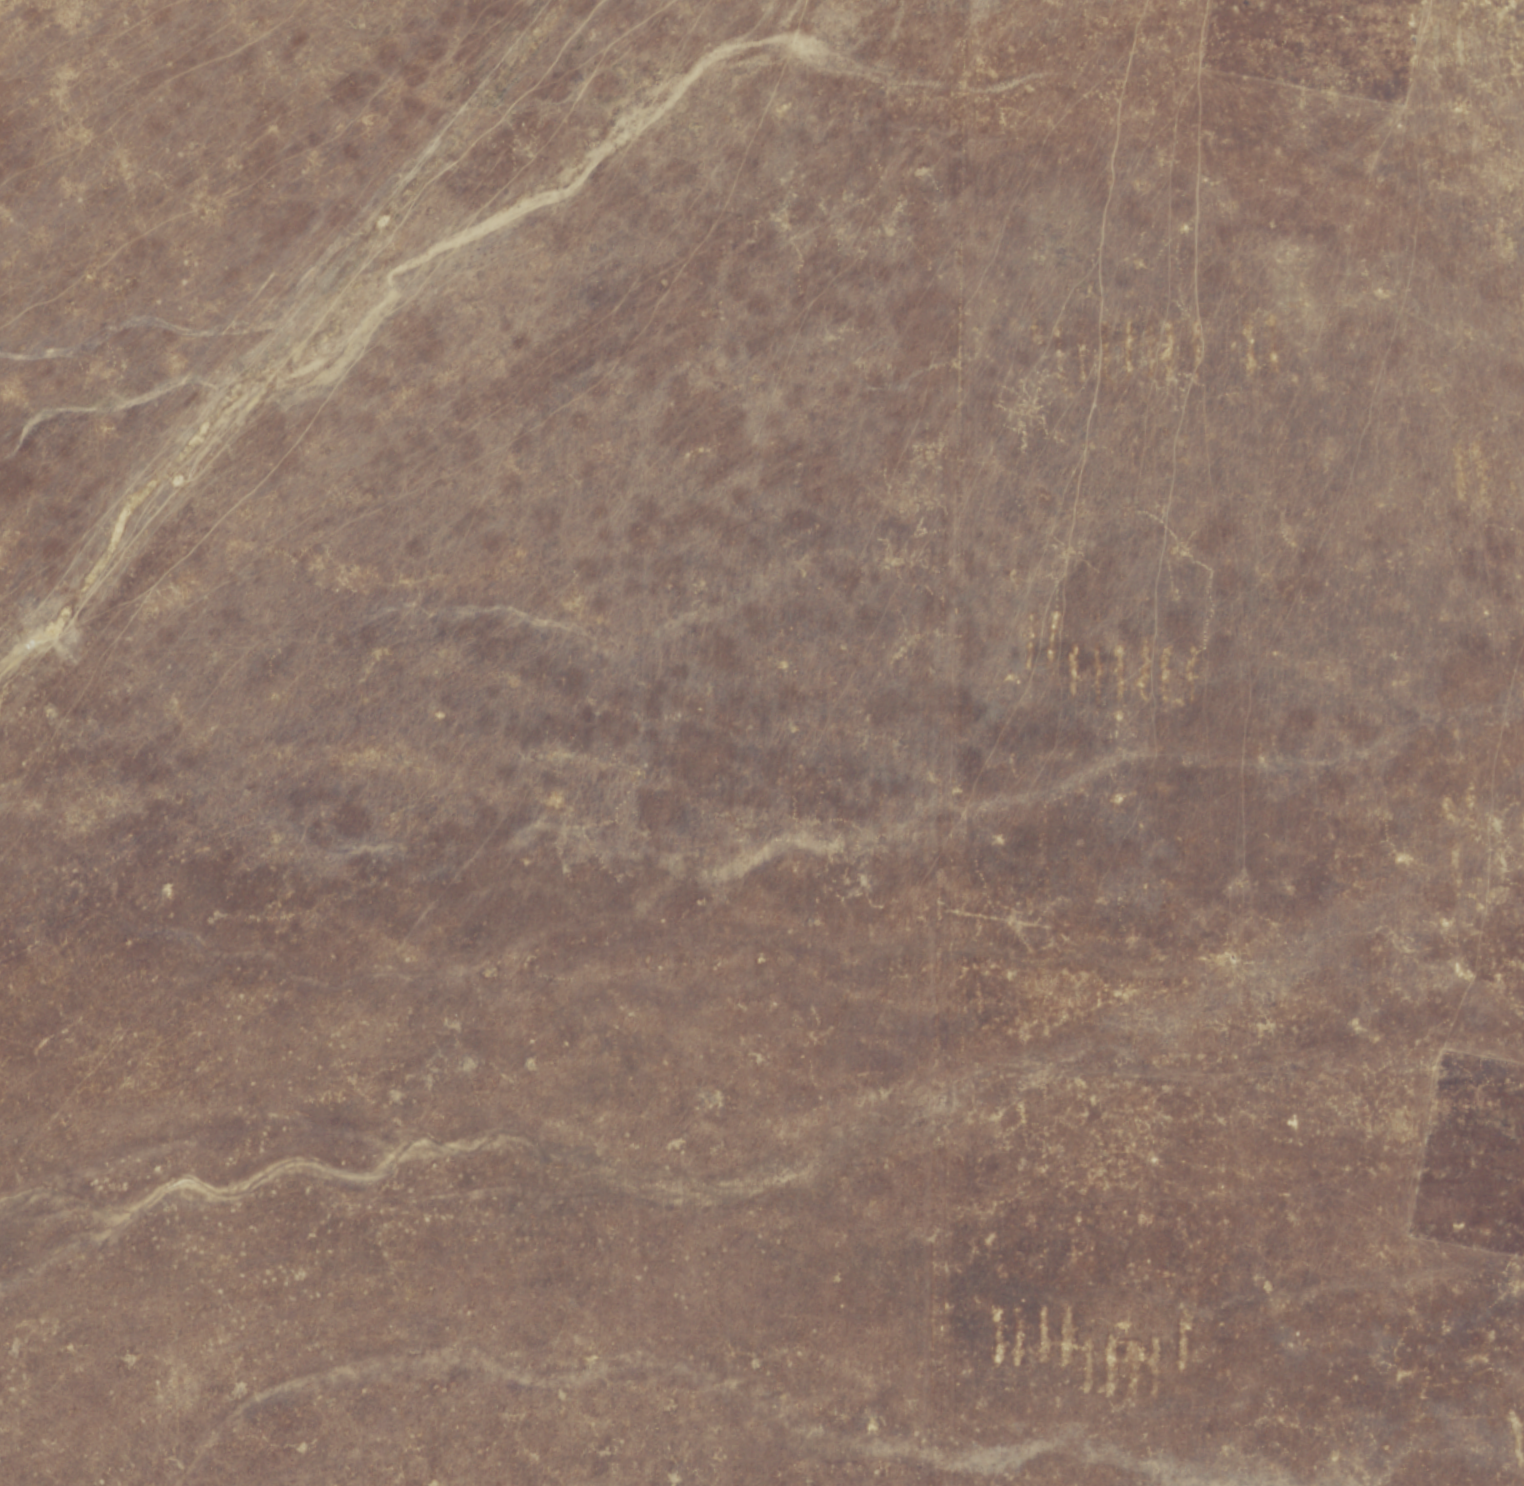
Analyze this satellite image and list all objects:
road: (283, 358)

